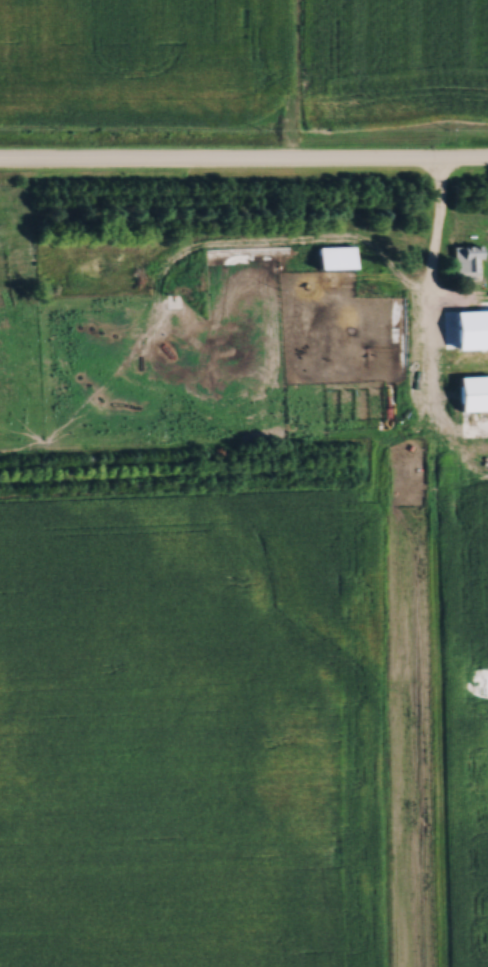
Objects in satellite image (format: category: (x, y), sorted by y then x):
road: (243, 161)
road: (437, 239)
building: (466, 261)
building: (472, 394)

